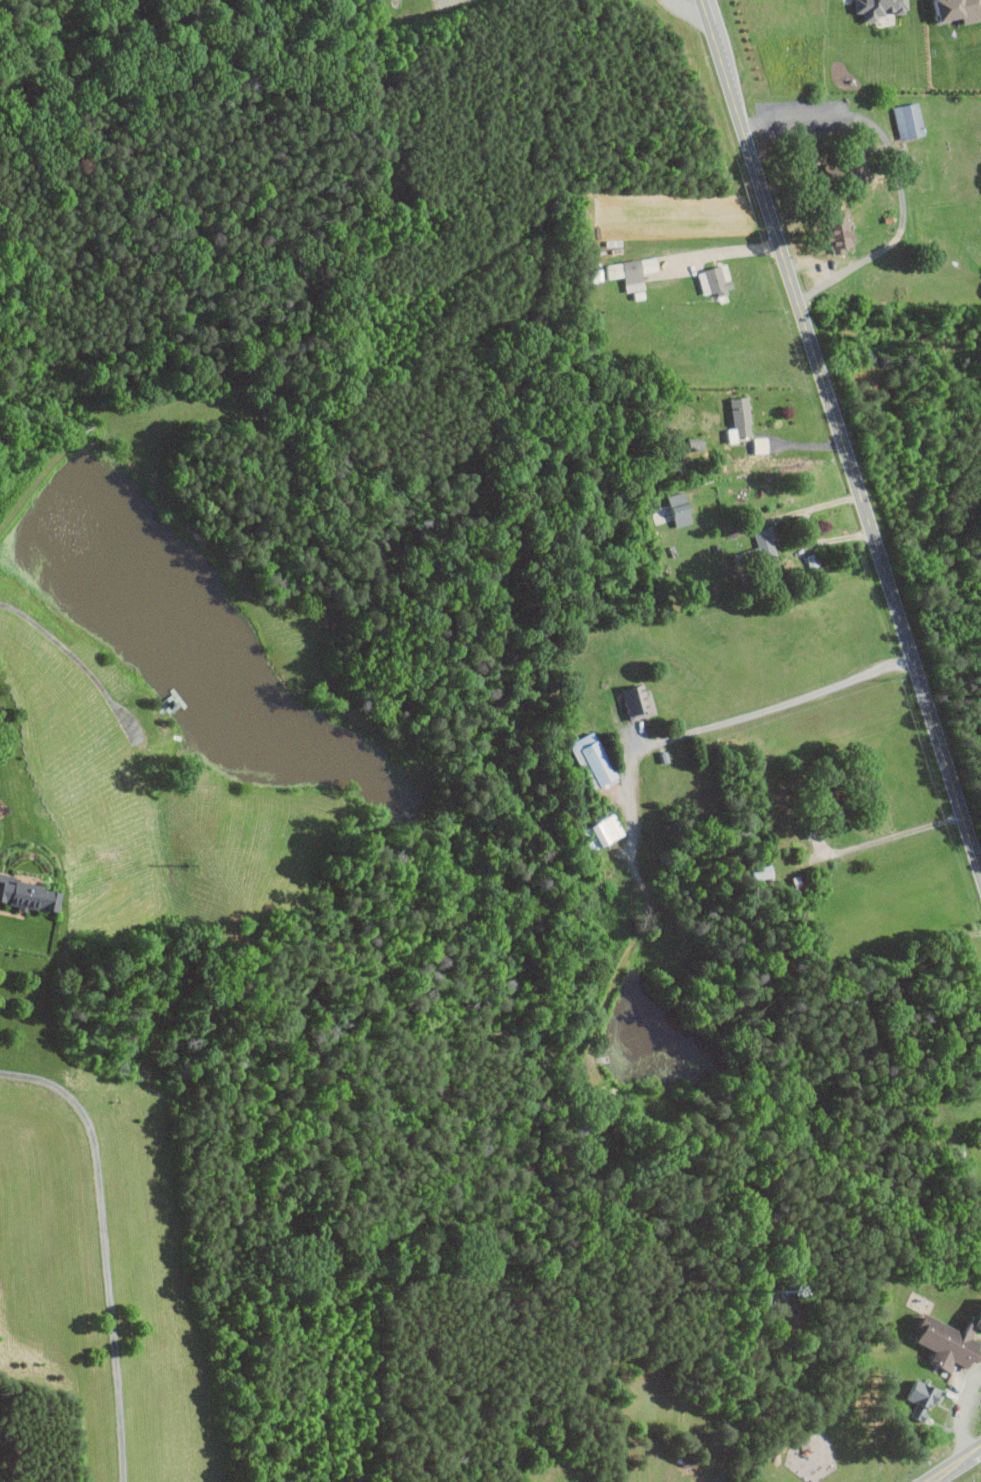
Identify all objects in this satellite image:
road: (687, 7)
building: (881, 8)
building: (909, 121)
building: (834, 170)
road: (895, 171)
building: (844, 234)
road: (719, 252)
building: (632, 272)
building: (716, 280)
building: (741, 420)
road: (840, 437)
building: (698, 444)
building: (761, 445)
building: (681, 509)
road: (783, 511)
road: (823, 539)
building: (759, 548)
road: (76, 659)
building: (640, 701)
road: (737, 726)
building: (606, 831)
road: (885, 837)
building: (30, 894)
road: (105, 1248)
building: (980, 1324)
building: (951, 1342)
building: (924, 1399)
road: (961, 1414)
road: (955, 1465)

